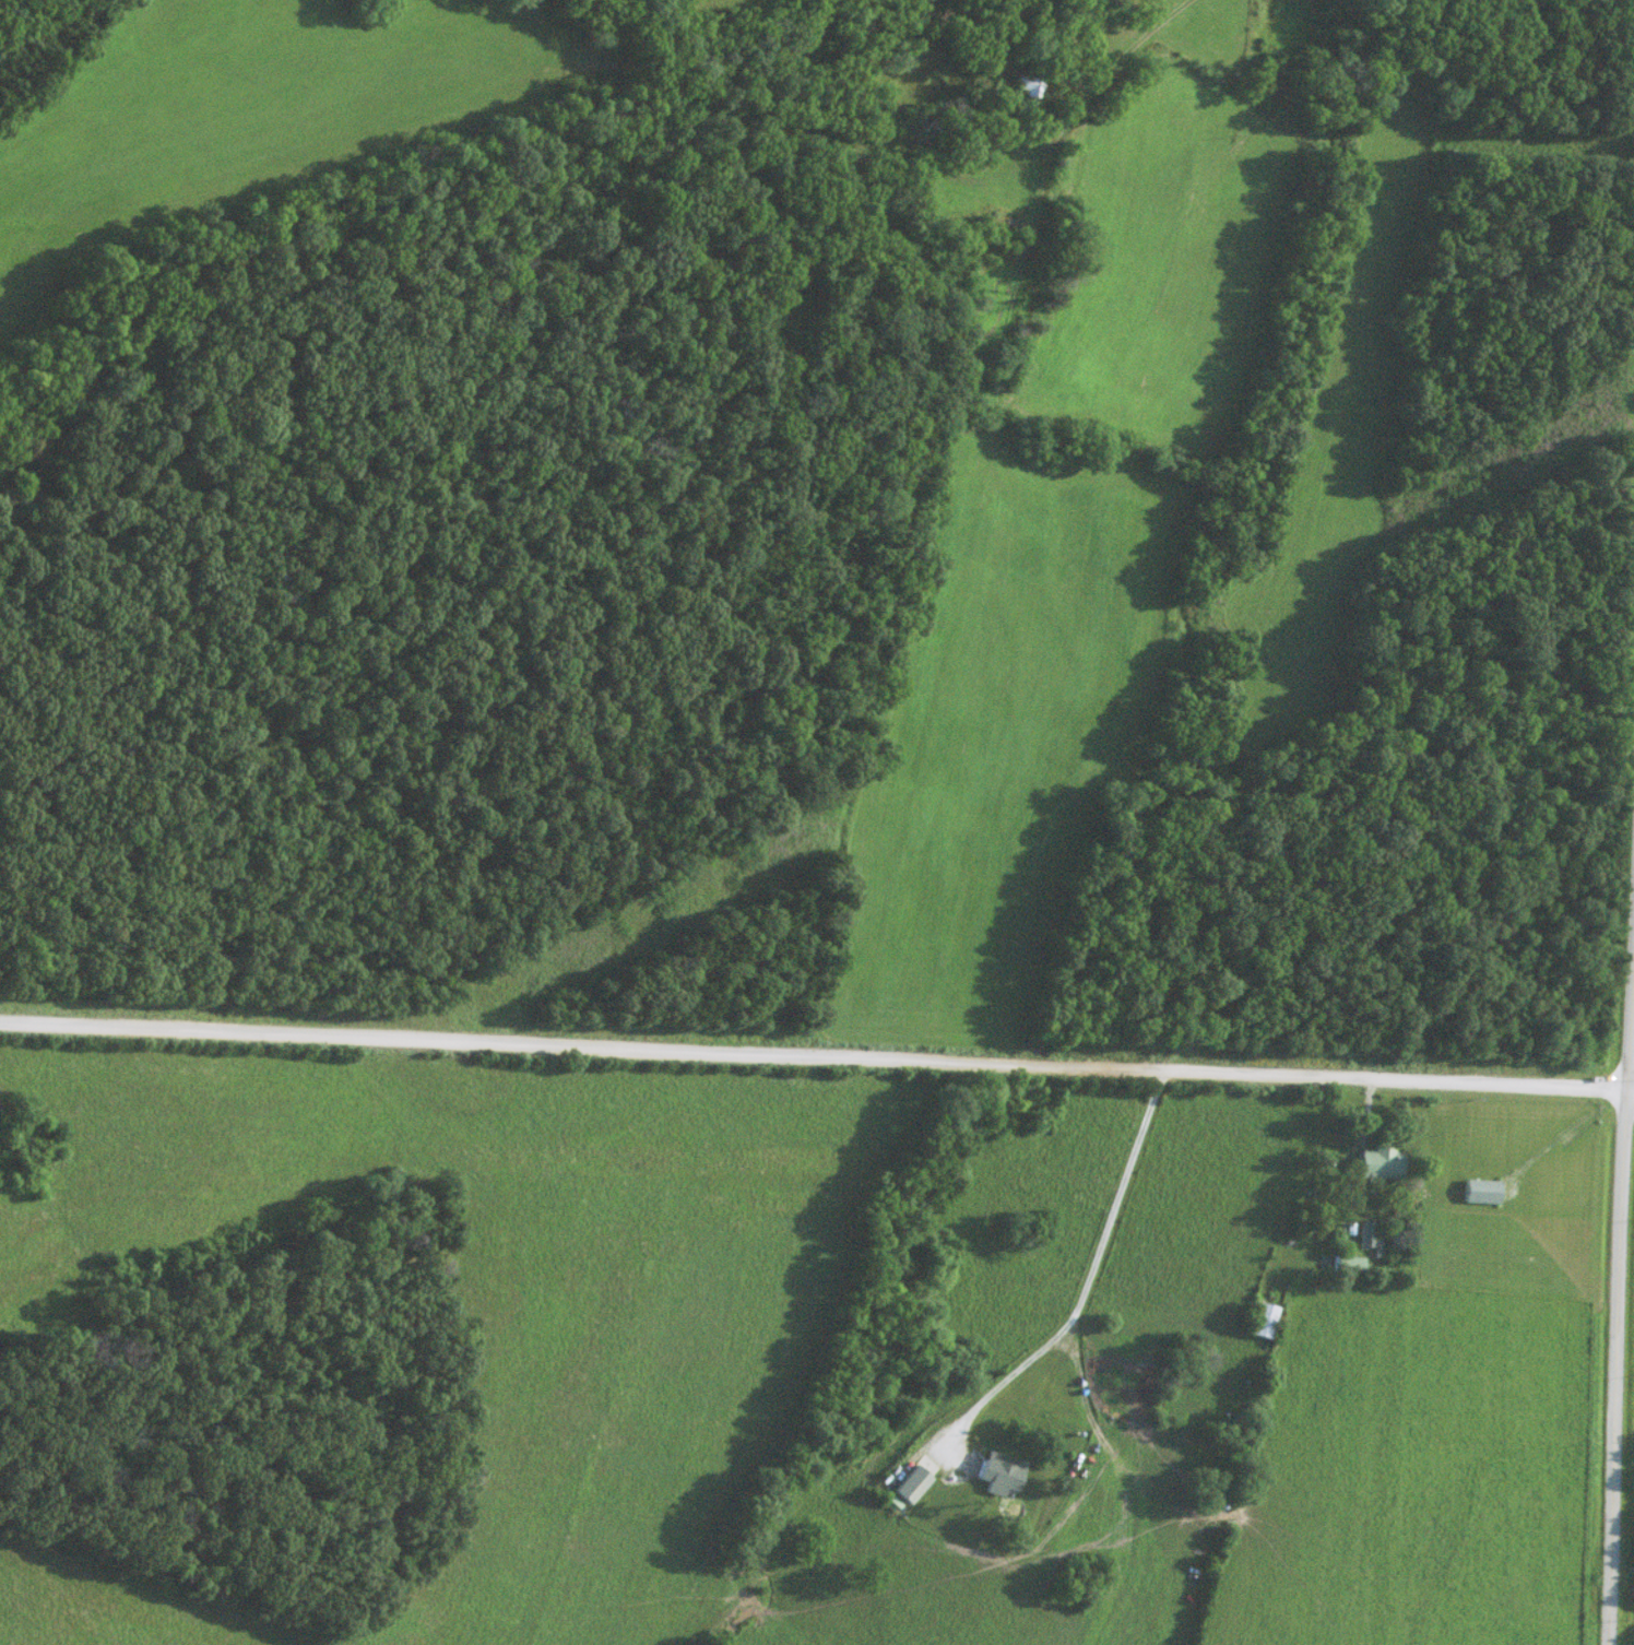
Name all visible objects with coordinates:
road: (1125, 52)
building: (1028, 86)
building: (979, 150)
building: (964, 246)
road: (1631, 1048)
road: (817, 1056)
road: (1565, 1134)
building: (1381, 1164)
building: (1348, 1265)
road: (1086, 1287)
building: (1263, 1322)
road: (1618, 1369)
building: (1149, 1378)
building: (997, 1476)
building: (905, 1486)

